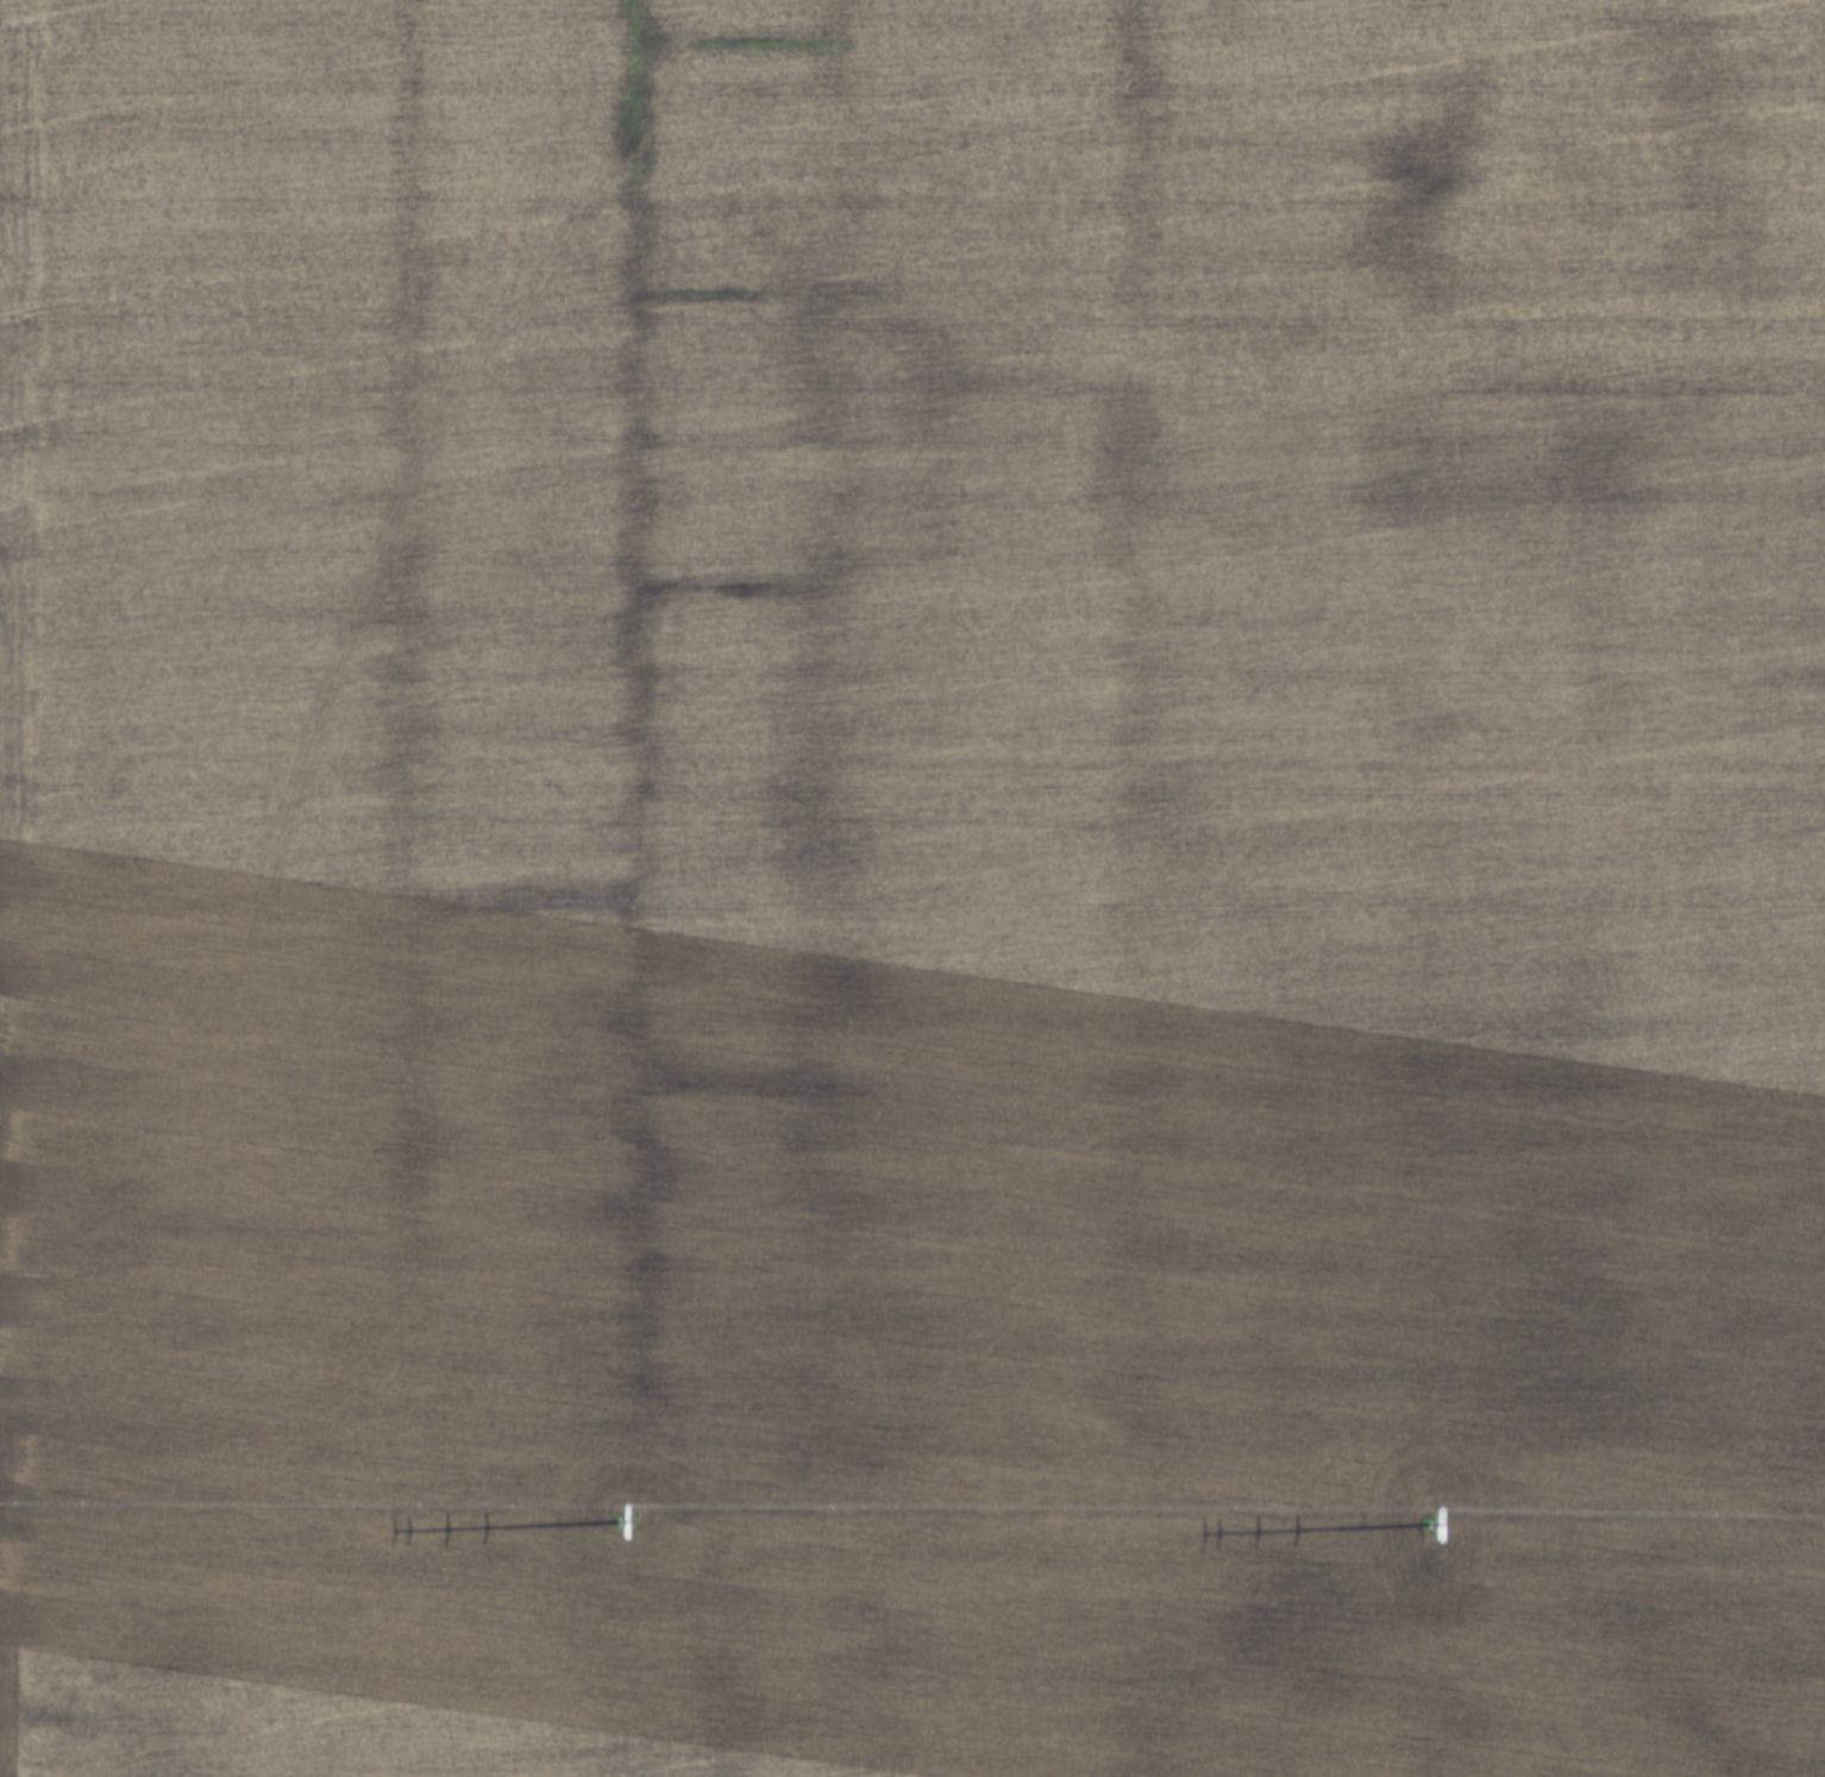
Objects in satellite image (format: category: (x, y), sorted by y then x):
power tower: (620, 1522)
power tower: (1431, 1526)

